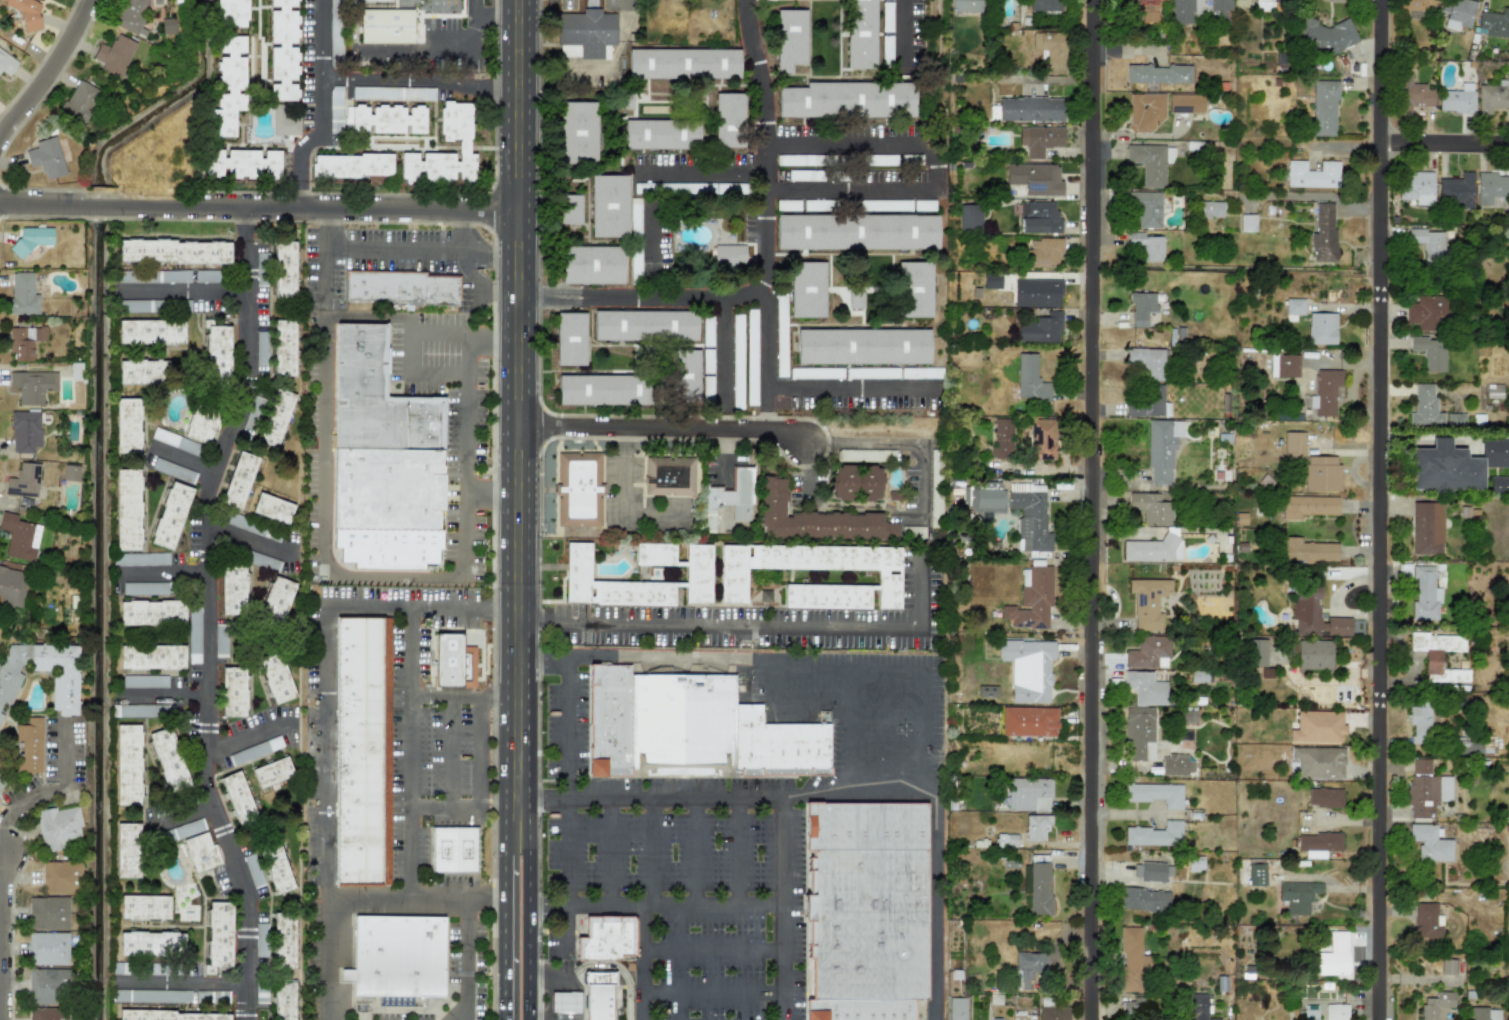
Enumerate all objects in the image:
building: (375, 0)
building: (1275, 0)
building: (1415, 5)
building: (965, 7)
building: (1043, 7)
road: (474, 9)
building: (1146, 10)
building: (1198, 10)
building: (26, 12)
building: (231, 13)
building: (1458, 13)
building: (132, 17)
building: (887, 17)
building: (417, 21)
building: (1494, 23)
building: (386, 26)
road: (903, 32)
building: (584, 33)
building: (860, 33)
building: (1327, 35)
building: (789, 38)
road: (321, 39)
building: (886, 48)
building: (283, 49)
road: (453, 50)
building: (1051, 50)
building: (114, 54)
building: (7, 62)
building: (683, 62)
road: (49, 71)
building: (1156, 74)
road: (399, 81)
building: (228, 85)
road: (497, 88)
building: (393, 93)
building: (1413, 94)
building: (848, 98)
building: (1492, 98)
building: (335, 99)
building: (1457, 100)
building: (77, 103)
building: (1185, 104)
building: (1324, 108)
building: (1031, 109)
building: (1144, 111)
building: (728, 118)
building: (385, 119)
building: (285, 120)
road: (318, 132)
building: (577, 132)
building: (661, 132)
building: (1042, 140)
building: (463, 146)
road: (1447, 150)
building: (46, 159)
building: (796, 160)
building: (889, 160)
building: (243, 164)
building: (1148, 164)
building: (351, 166)
road: (933, 168)
road: (702, 173)
building: (804, 175)
building: (1309, 175)
building: (1035, 179)
building: (691, 187)
building: (1490, 187)
building: (1416, 188)
building: (1457, 190)
road: (300, 193)
building: (610, 204)
building: (788, 205)
building: (811, 205)
building: (885, 205)
building: (924, 205)
road: (259, 206)
building: (1146, 208)
building: (569, 209)
building: (1210, 209)
building: (969, 215)
building: (1039, 217)
building: (857, 230)
building: (1323, 232)
building: (31, 239)
building: (634, 240)
building: (1428, 244)
building: (1147, 246)
building: (173, 250)
road: (401, 251)
building: (1043, 252)
building: (729, 256)
road: (765, 262)
building: (591, 265)
building: (284, 269)
road: (468, 273)
building: (206, 276)
building: (990, 282)
road: (326, 283)
building: (401, 287)
building: (806, 288)
building: (912, 289)
road: (181, 290)
building: (1036, 293)
building: (22, 294)
building: (855, 298)
building: (131, 306)
building: (1294, 306)
building: (1143, 309)
building: (1425, 309)
building: (644, 325)
building: (1321, 328)
building: (1040, 329)
building: (151, 332)
building: (780, 336)
building: (570, 339)
building: (24, 341)
building: (863, 345)
building: (284, 348)
road: (723, 349)
building: (218, 351)
road: (468, 352)
building: (1429, 352)
building: (751, 357)
building: (712, 361)
building: (737, 361)
building: (1148, 362)
building: (1284, 365)
building: (76, 371)
building: (143, 372)
building: (816, 373)
building: (872, 373)
building: (920, 373)
building: (683, 378)
building: (1030, 379)
road: (800, 383)
building: (32, 386)
building: (602, 389)
building: (1324, 394)
building: (1146, 403)
building: (1424, 408)
building: (251, 412)
road: (517, 413)
building: (275, 418)
building: (1455, 419)
building: (127, 425)
building: (201, 427)
road: (662, 430)
building: (24, 432)
building: (1003, 438)
building: (1040, 440)
building: (175, 441)
building: (1293, 445)
road: (912, 446)
building: (1161, 450)
road: (186, 460)
building: (381, 464)
building: (1454, 465)
building: (173, 470)
road: (623, 470)
building: (70, 473)
building: (1321, 475)
building: (668, 476)
building: (23, 481)
building: (239, 481)
building: (856, 483)
building: (1499, 484)
building: (580, 491)
road: (492, 493)
building: (733, 494)
building: (1306, 506)
building: (1506, 507)
building: (273, 508)
building: (1150, 508)
building: (127, 509)
road: (1383, 509)
road: (1095, 510)
road: (647, 511)
building: (171, 515)
building: (1035, 515)
building: (814, 519)
building: (708, 521)
building: (1427, 528)
building: (913, 532)
building: (19, 537)
road: (246, 540)
building: (1153, 549)
building: (1307, 550)
building: (140, 559)
building: (262, 561)
road: (164, 571)
road: (429, 573)
building: (697, 573)
building: (732, 577)
building: (13, 586)
building: (141, 588)
building: (233, 589)
building: (1425, 594)
building: (276, 599)
building: (1032, 602)
building: (1147, 603)
building: (1307, 610)
building: (152, 612)
road: (208, 612)
building: (1338, 626)
road: (750, 629)
building: (194, 632)
building: (220, 640)
building: (1147, 652)
building: (1314, 655)
road: (648, 656)
building: (1438, 656)
building: (152, 657)
building: (453, 662)
building: (1028, 668)
road: (904, 672)
building: (276, 677)
building: (144, 681)
building: (64, 687)
building: (1145, 688)
building: (986, 691)
building: (233, 692)
road: (161, 695)
road: (463, 696)
road: (800, 703)
building: (137, 710)
building: (0, 714)
building: (1188, 716)
building: (608, 719)
road: (326, 720)
building: (1028, 721)
building: (681, 724)
building: (1420, 724)
building: (1318, 727)
road: (888, 730)
road: (851, 731)
building: (1140, 732)
road: (244, 739)
building: (779, 744)
building: (29, 746)
building: (255, 751)
building: (362, 751)
road: (452, 751)
road: (407, 752)
building: (169, 760)
building: (128, 765)
building: (1176, 765)
building: (272, 772)
building: (0, 781)
road: (567, 782)
road: (479, 786)
building: (1421, 789)
building: (1444, 789)
road: (840, 792)
building: (1028, 793)
road: (45, 794)
building: (1156, 794)
building: (238, 798)
building: (1324, 798)
road: (182, 813)
building: (865, 826)
building: (58, 828)
building: (1036, 829)
building: (183, 830)
building: (1155, 834)
road: (508, 840)
building: (1006, 840)
building: (1430, 843)
building: (1318, 844)
building: (127, 850)
building: (453, 850)
road: (652, 851)
road: (696, 851)
road: (740, 851)
building: (201, 852)
road: (608, 852)
building: (1195, 864)
building: (276, 867)
building: (1150, 871)
building: (1253, 874)
building: (60, 877)
building: (1039, 888)
building: (1297, 896)
road: (415, 898)
building: (1144, 900)
road: (657, 906)
building: (144, 907)
road: (783, 907)
building: (48, 913)
building: (1427, 921)
road: (529, 922)
building: (866, 933)
road: (2, 936)
building: (218, 936)
road: (503, 937)
building: (606, 938)
building: (283, 942)
building: (151, 944)
building: (48, 948)
road: (714, 949)
building: (397, 956)
building: (1333, 956)
building: (1131, 958)
road: (467, 959)
building: (1030, 961)
road: (644, 963)
building: (1448, 967)
road: (187, 985)
building: (47, 986)
road: (550, 987)
road: (713, 994)
building: (151, 996)
building: (212, 996)
building: (598, 996)
building: (283, 1000)
building: (565, 1002)
building: (1437, 1006)
building: (1196, 1007)
building: (957, 1008)
building: (1134, 1010)
building: (1310, 1012)
building: (1336, 1012)
building: (1053, 1013)
building: (1476, 1013)
building: (49, 1014)
building: (1493, 1014)
building: (173, 1015)
building: (996, 1019)

